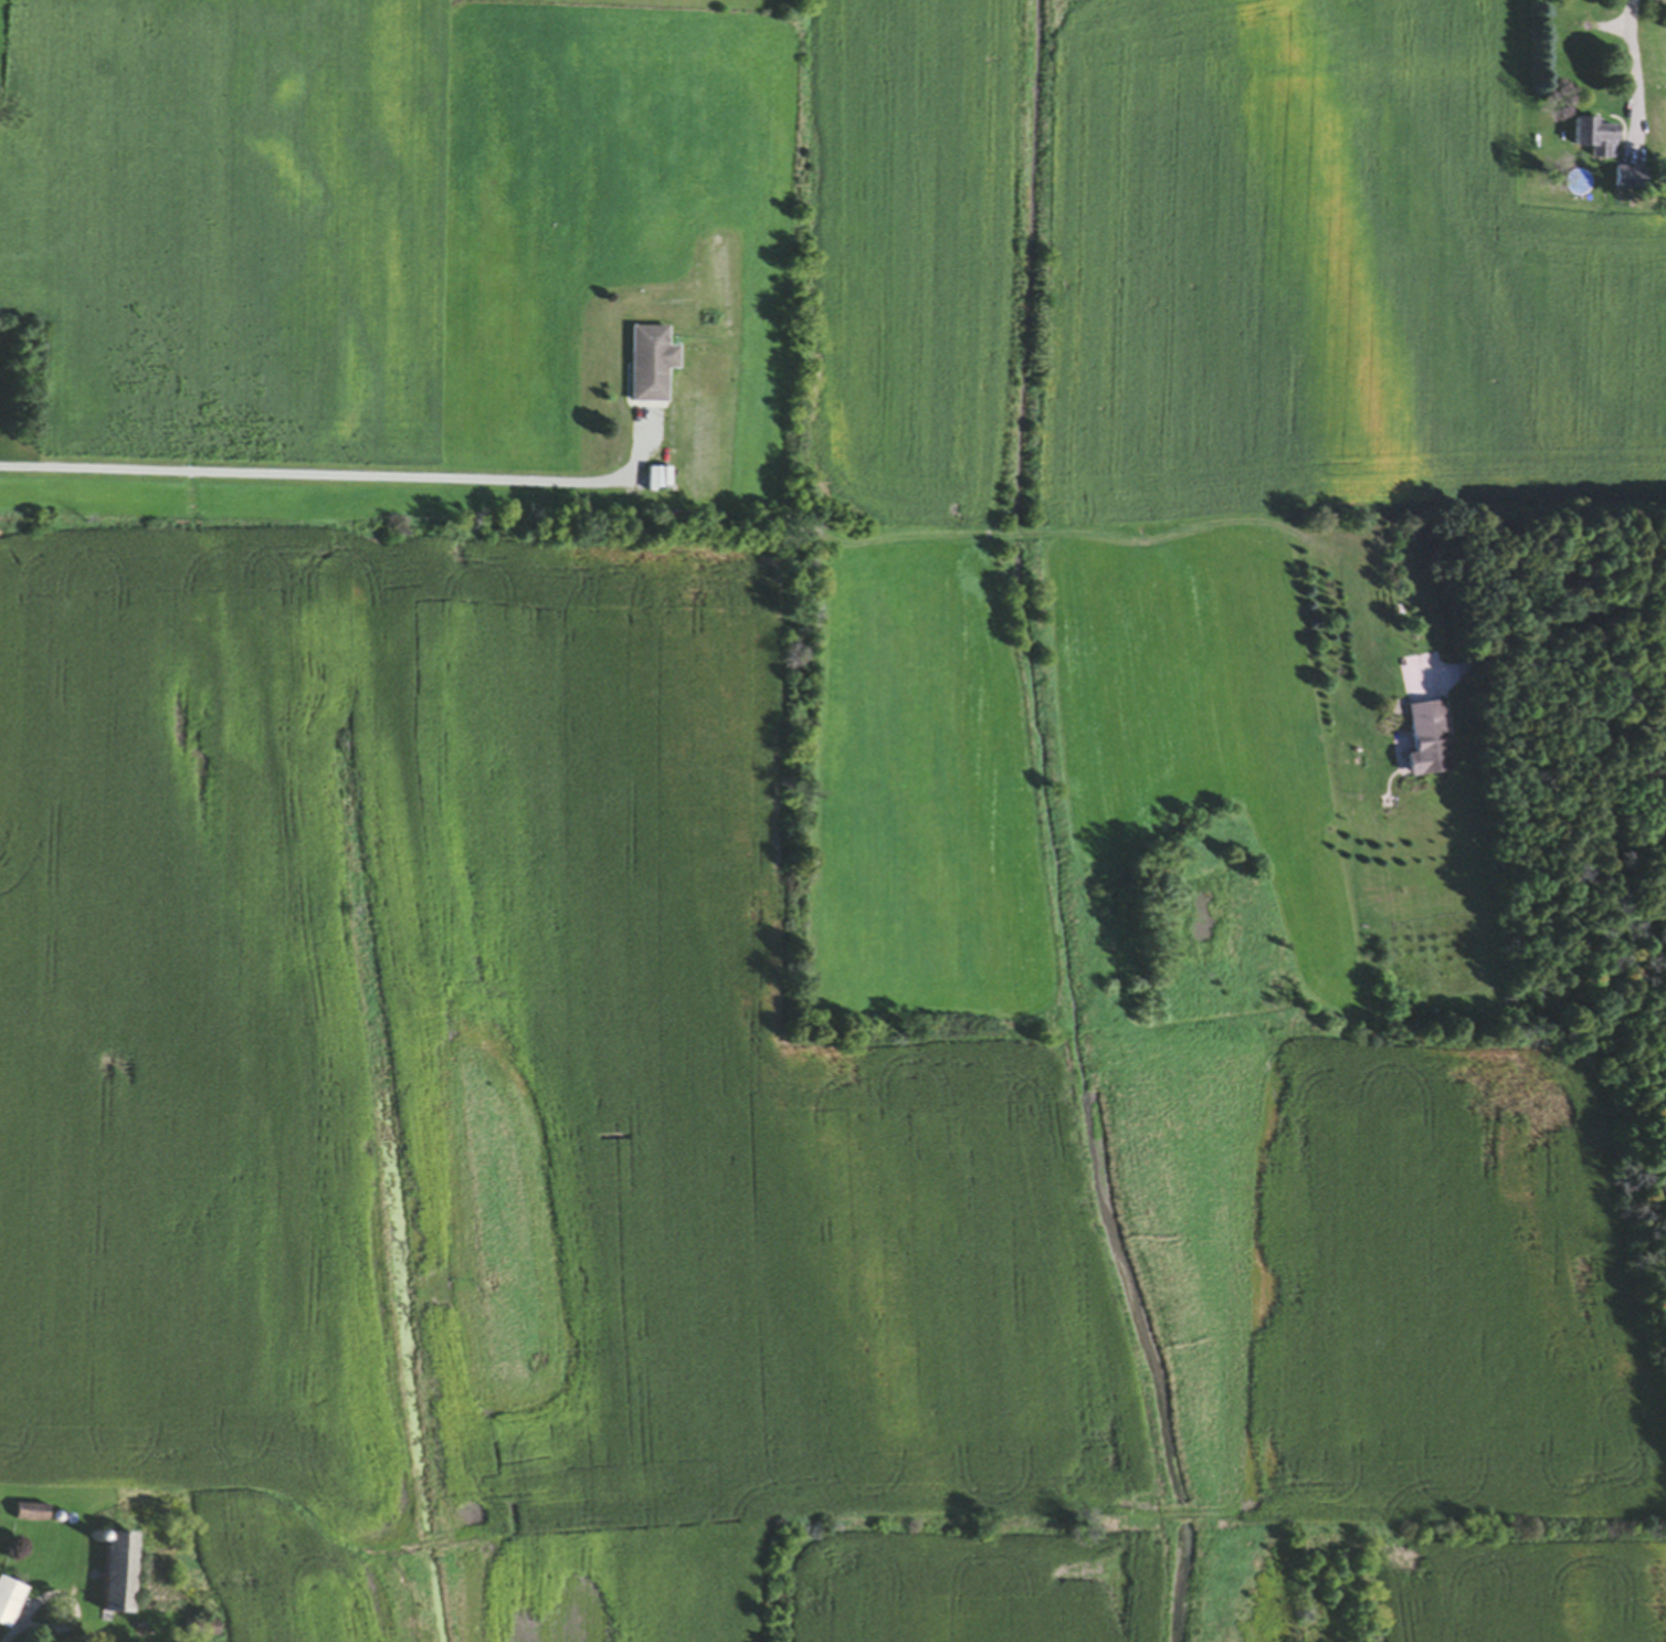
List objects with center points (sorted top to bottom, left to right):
building: (1656, 0)
road: (1634, 69)
building: (1598, 138)
building: (654, 366)
road: (313, 476)
road: (1557, 630)
building: (1431, 743)
building: (123, 1572)
building: (11, 1602)
building: (211, 1630)
road: (23, 1631)

